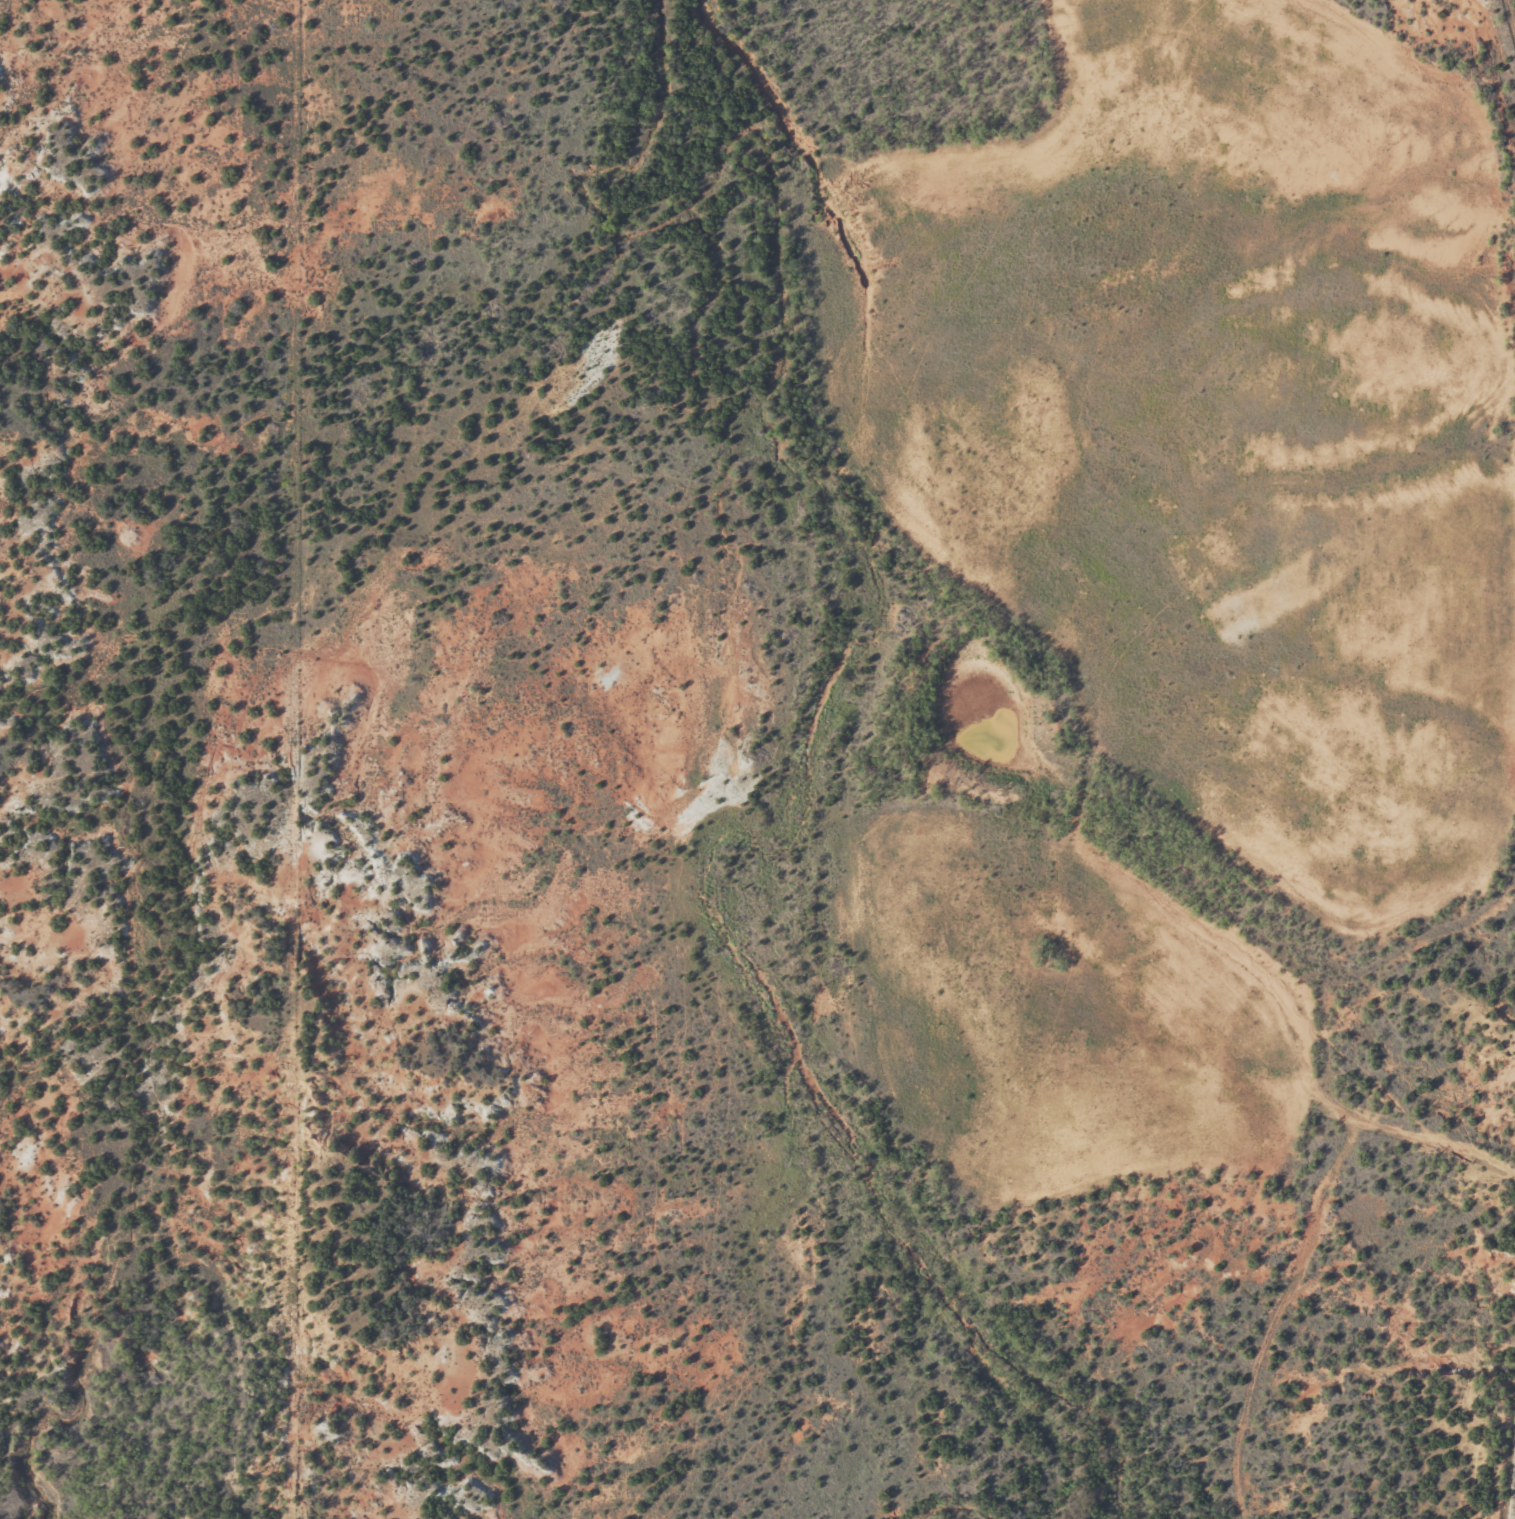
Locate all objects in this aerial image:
railway: (1508, 23)
railway: (1512, 1490)

